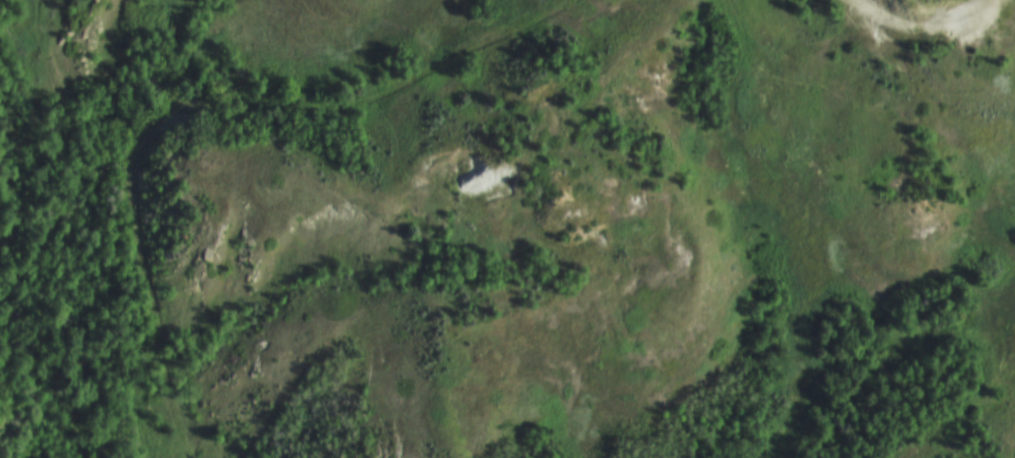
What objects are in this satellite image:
road: (930, 42)

